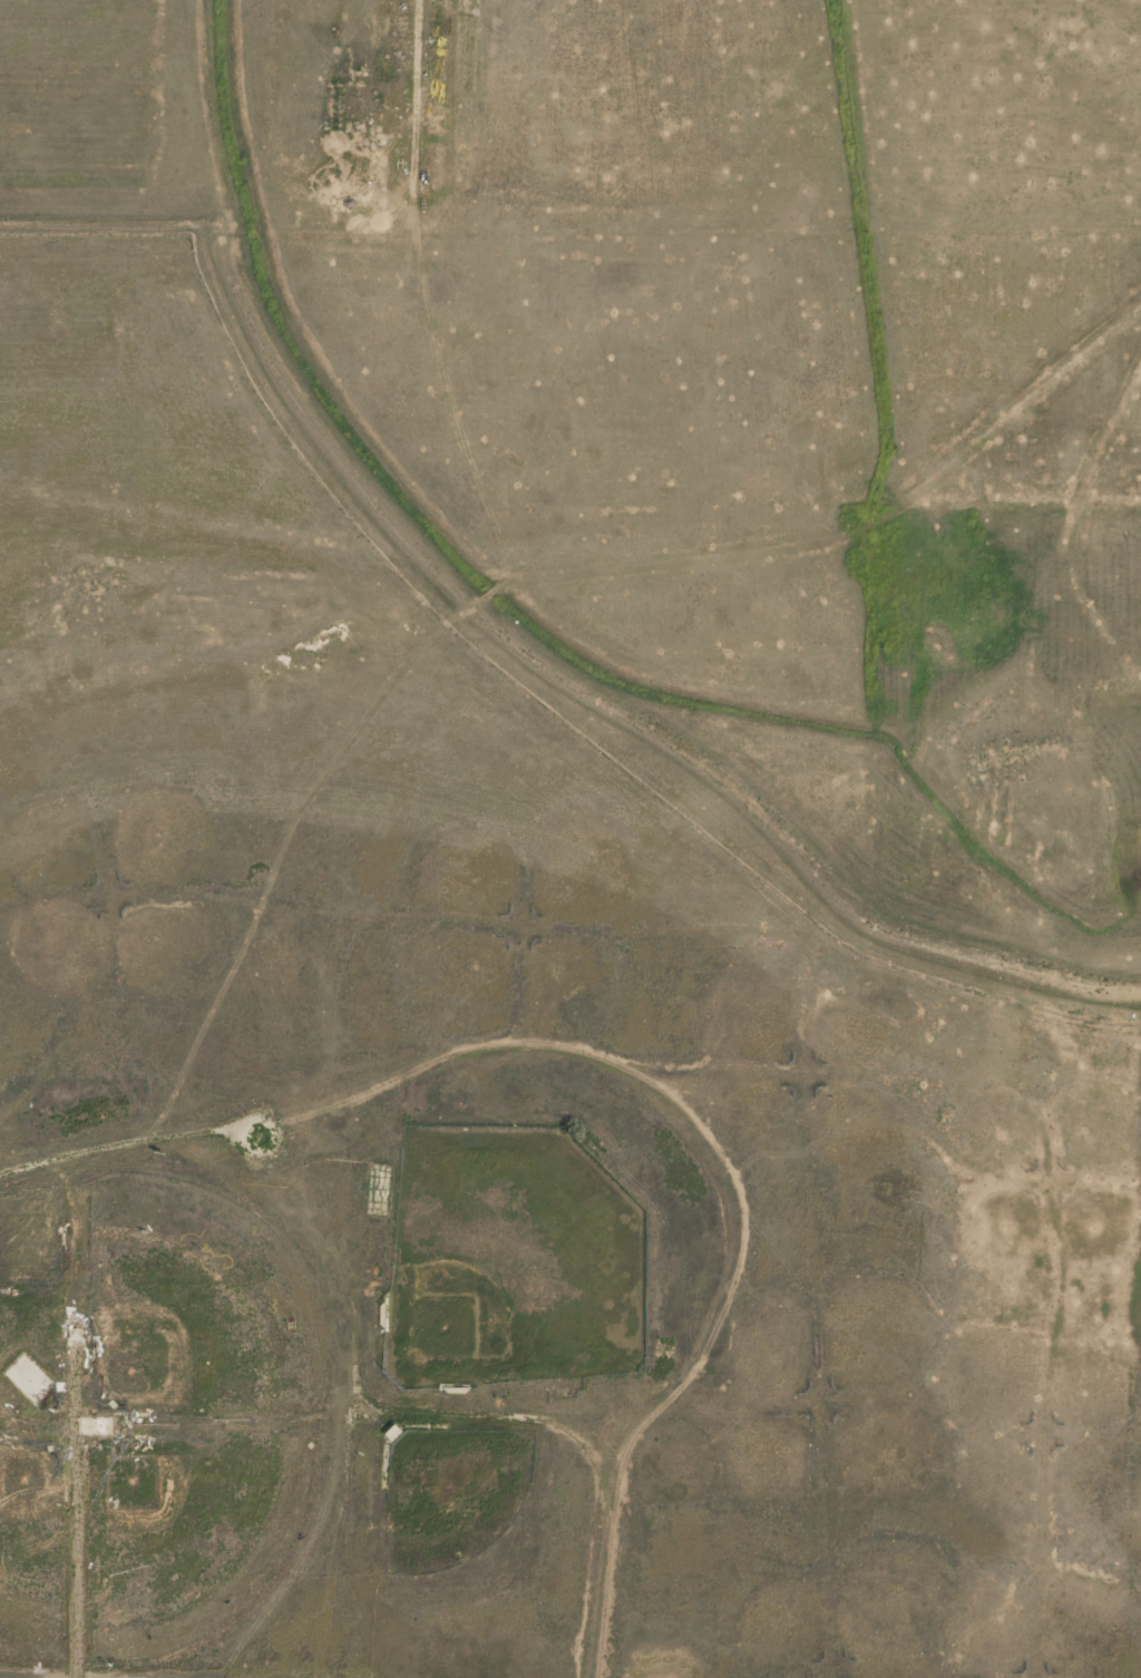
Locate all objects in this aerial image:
building: (77, 1334)
building: (94, 1427)

